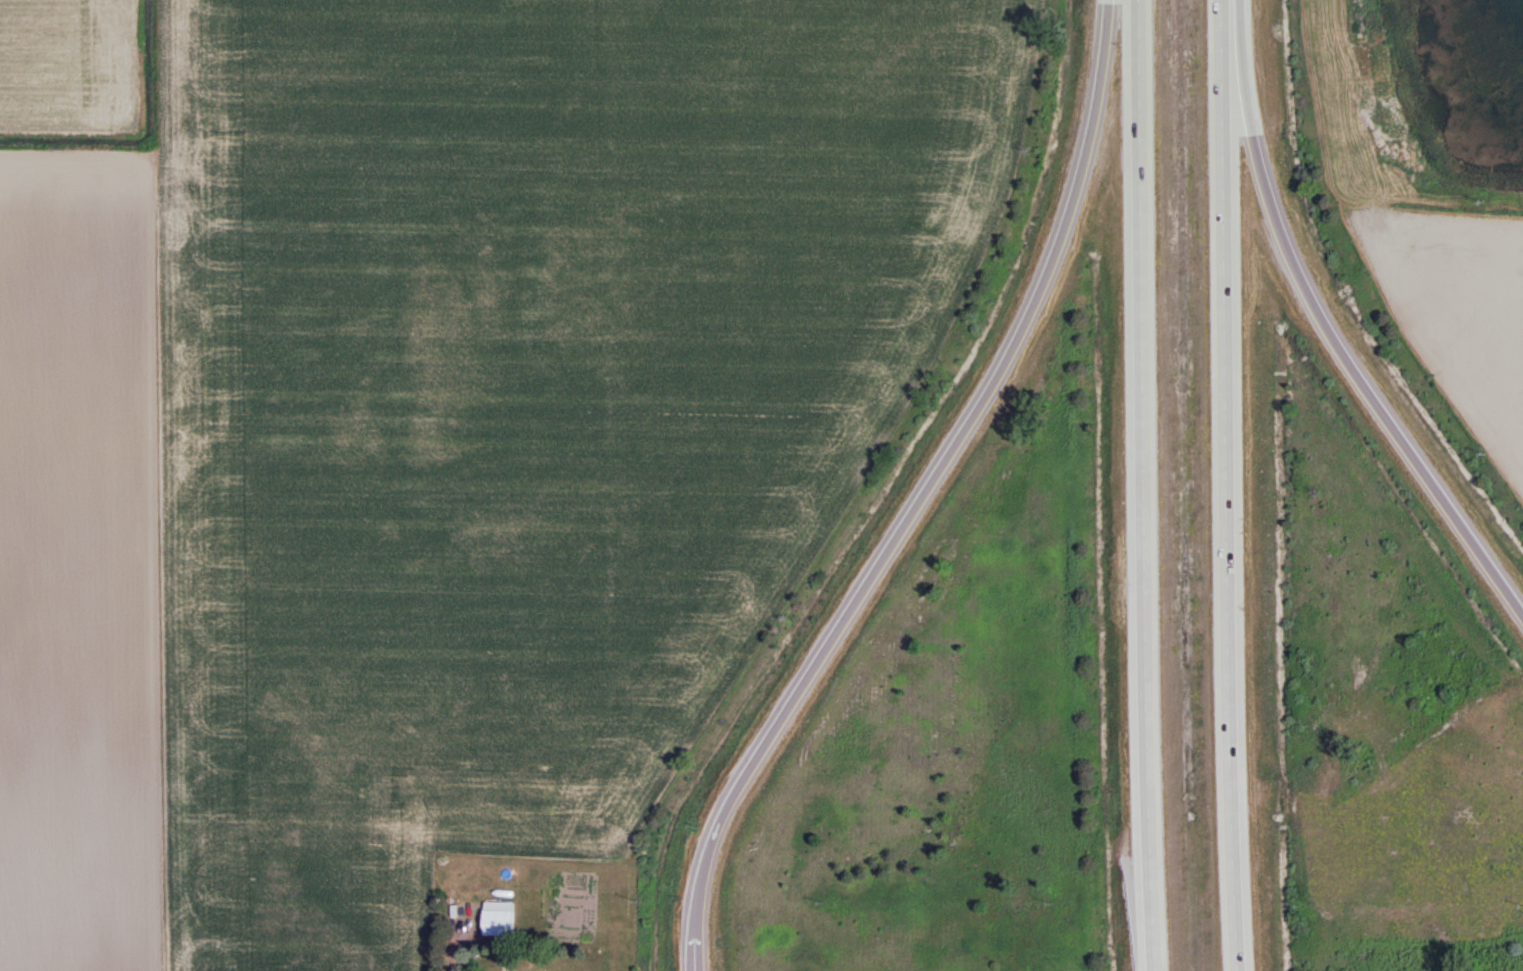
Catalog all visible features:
road: (1325, 330)
road: (922, 481)
road: (1140, 485)
road: (1223, 485)
building: (494, 914)
road: (691, 956)
building: (513, 969)

